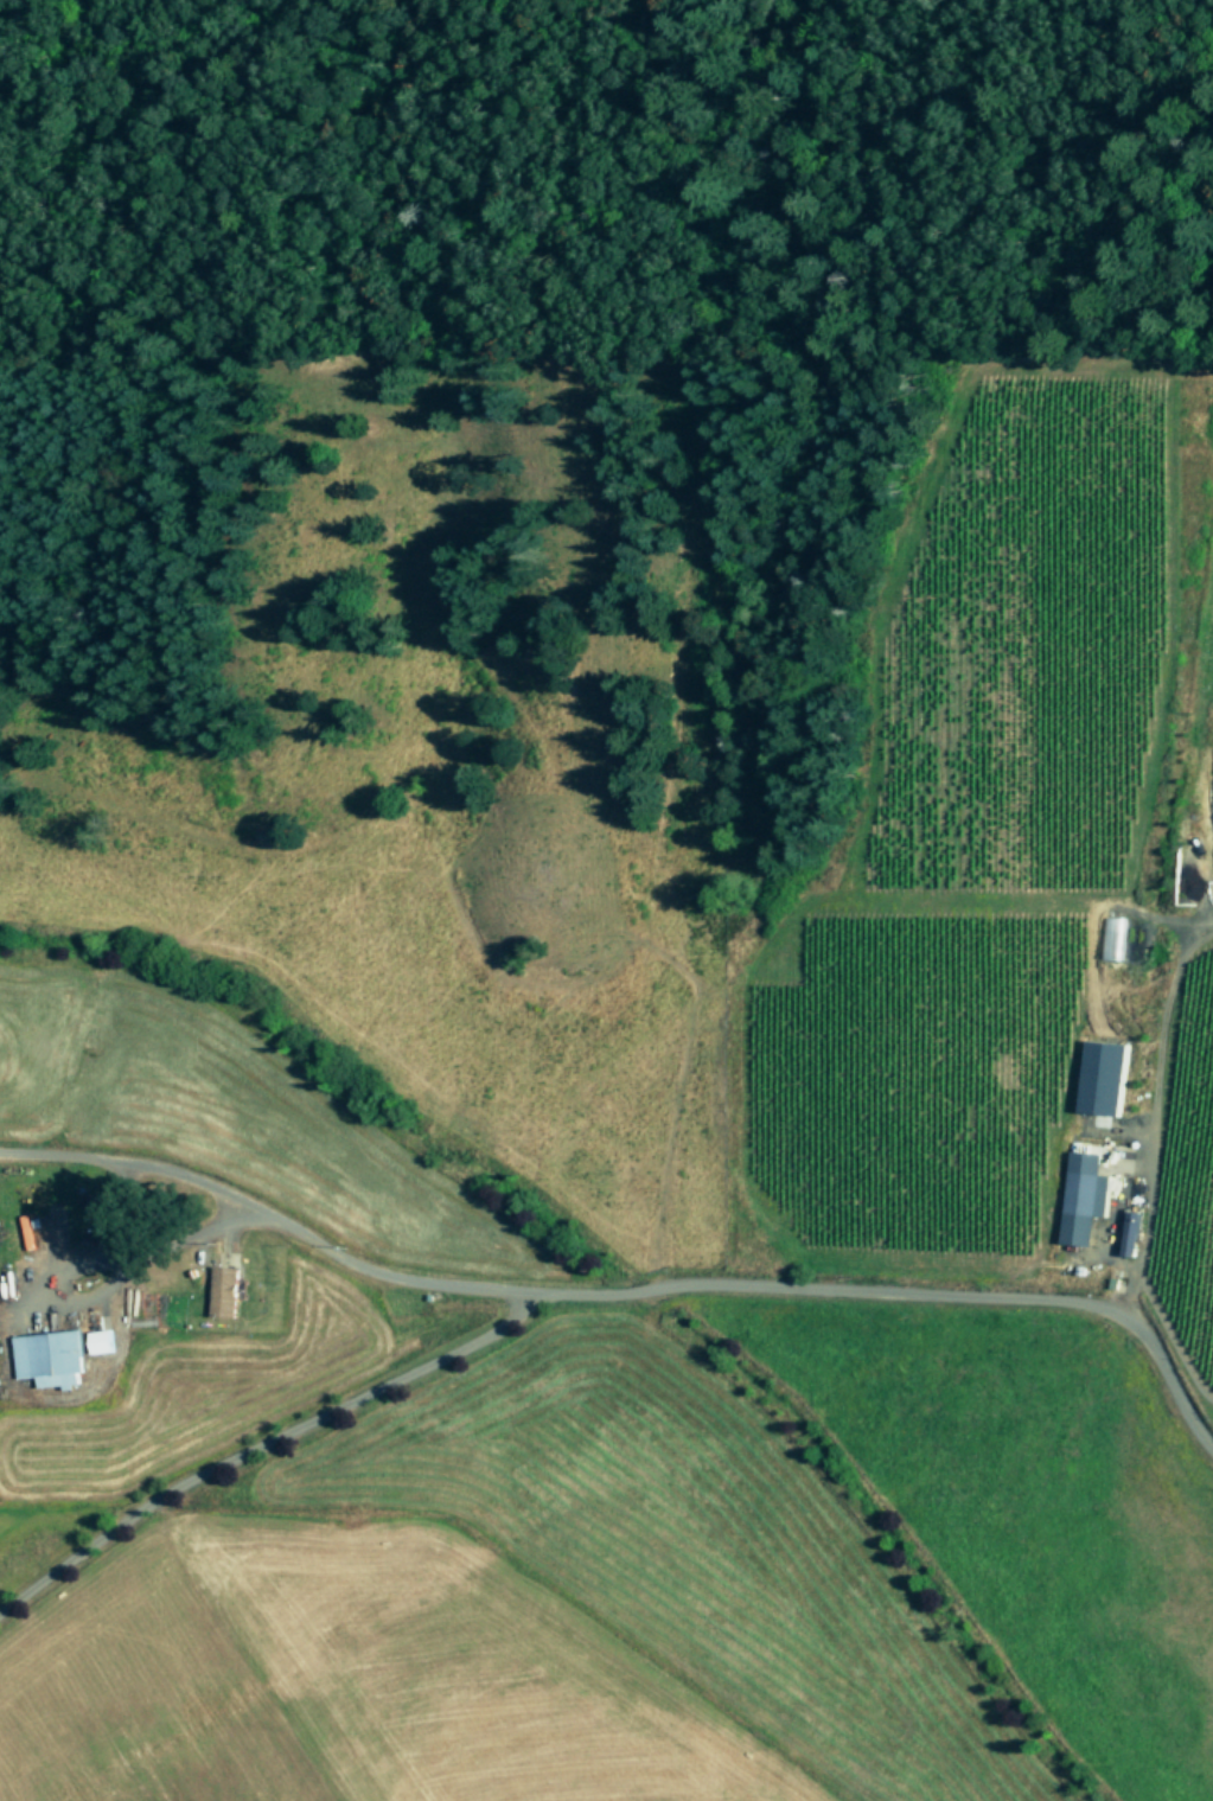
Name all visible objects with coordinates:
building: (1105, 1077)
road: (1151, 1123)
road: (148, 1163)
building: (1086, 1195)
building: (1132, 1232)
road: (700, 1279)
building: (226, 1291)
road: (55, 1294)
road: (1171, 1336)
building: (104, 1340)
building: (53, 1356)
road: (258, 1442)

